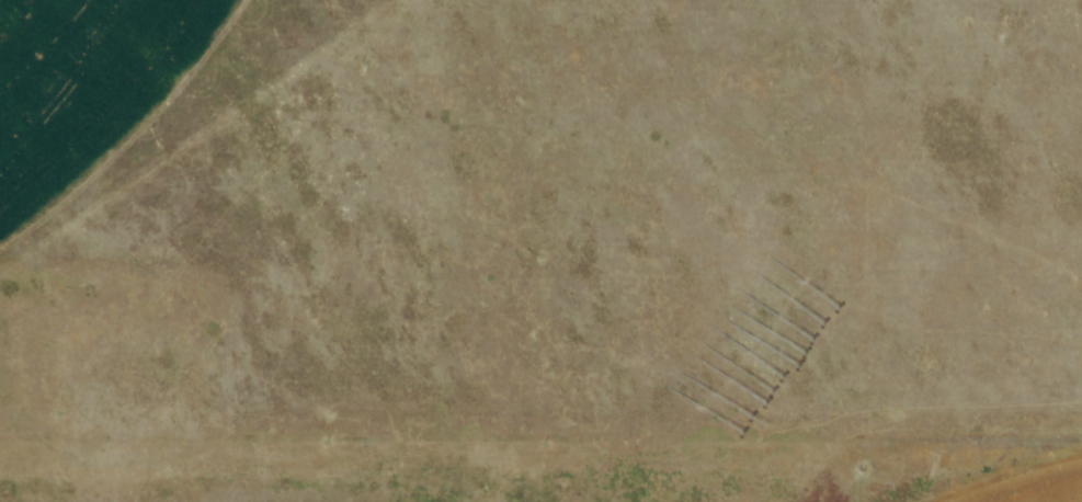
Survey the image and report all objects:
crop: (87, 81)
crop: (1039, 490)

